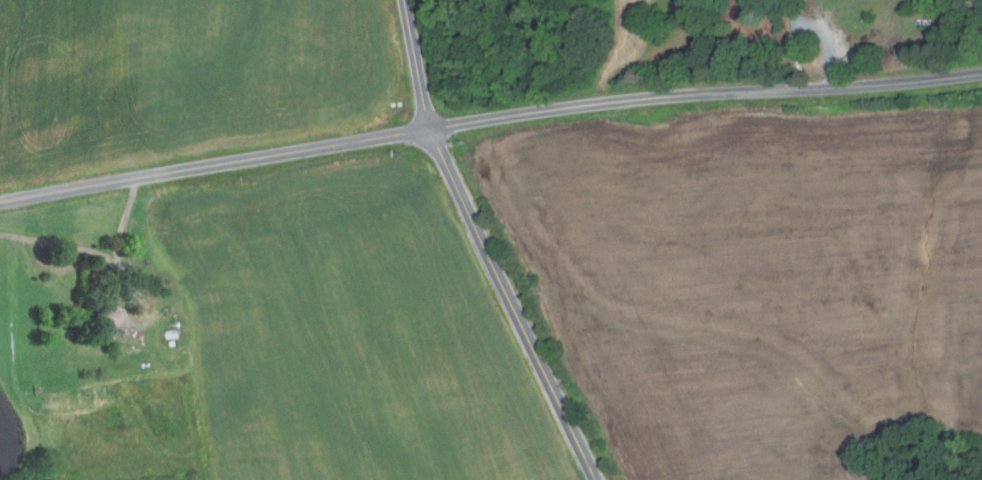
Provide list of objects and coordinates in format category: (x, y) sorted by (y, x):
road: (405, 12)
road: (826, 38)
road: (799, 52)
road: (704, 94)
road: (214, 164)
road: (118, 247)
road: (489, 256)
building: (106, 321)
building: (177, 325)
building: (173, 333)
building: (173, 343)

